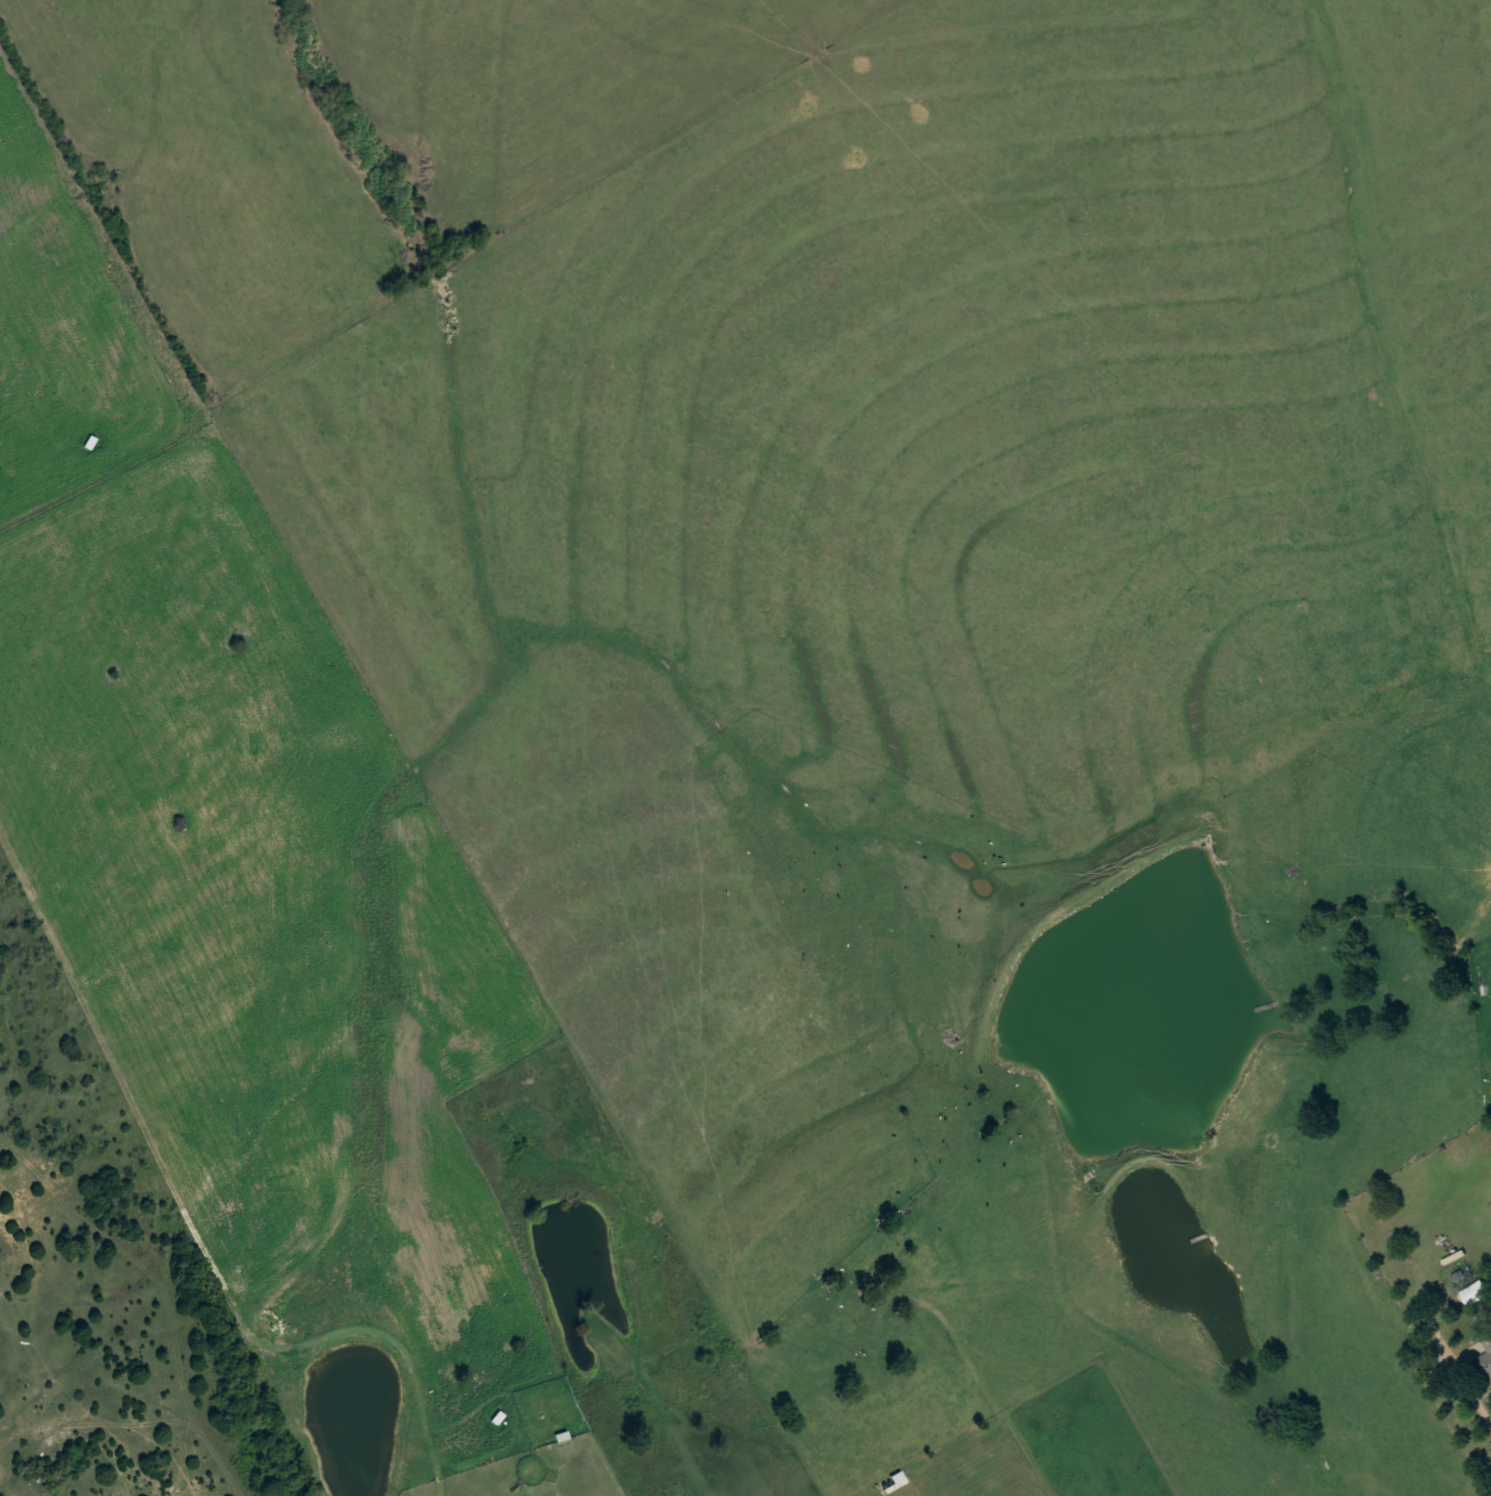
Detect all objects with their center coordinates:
building: (1474, 1293)
building: (1486, 1358)

